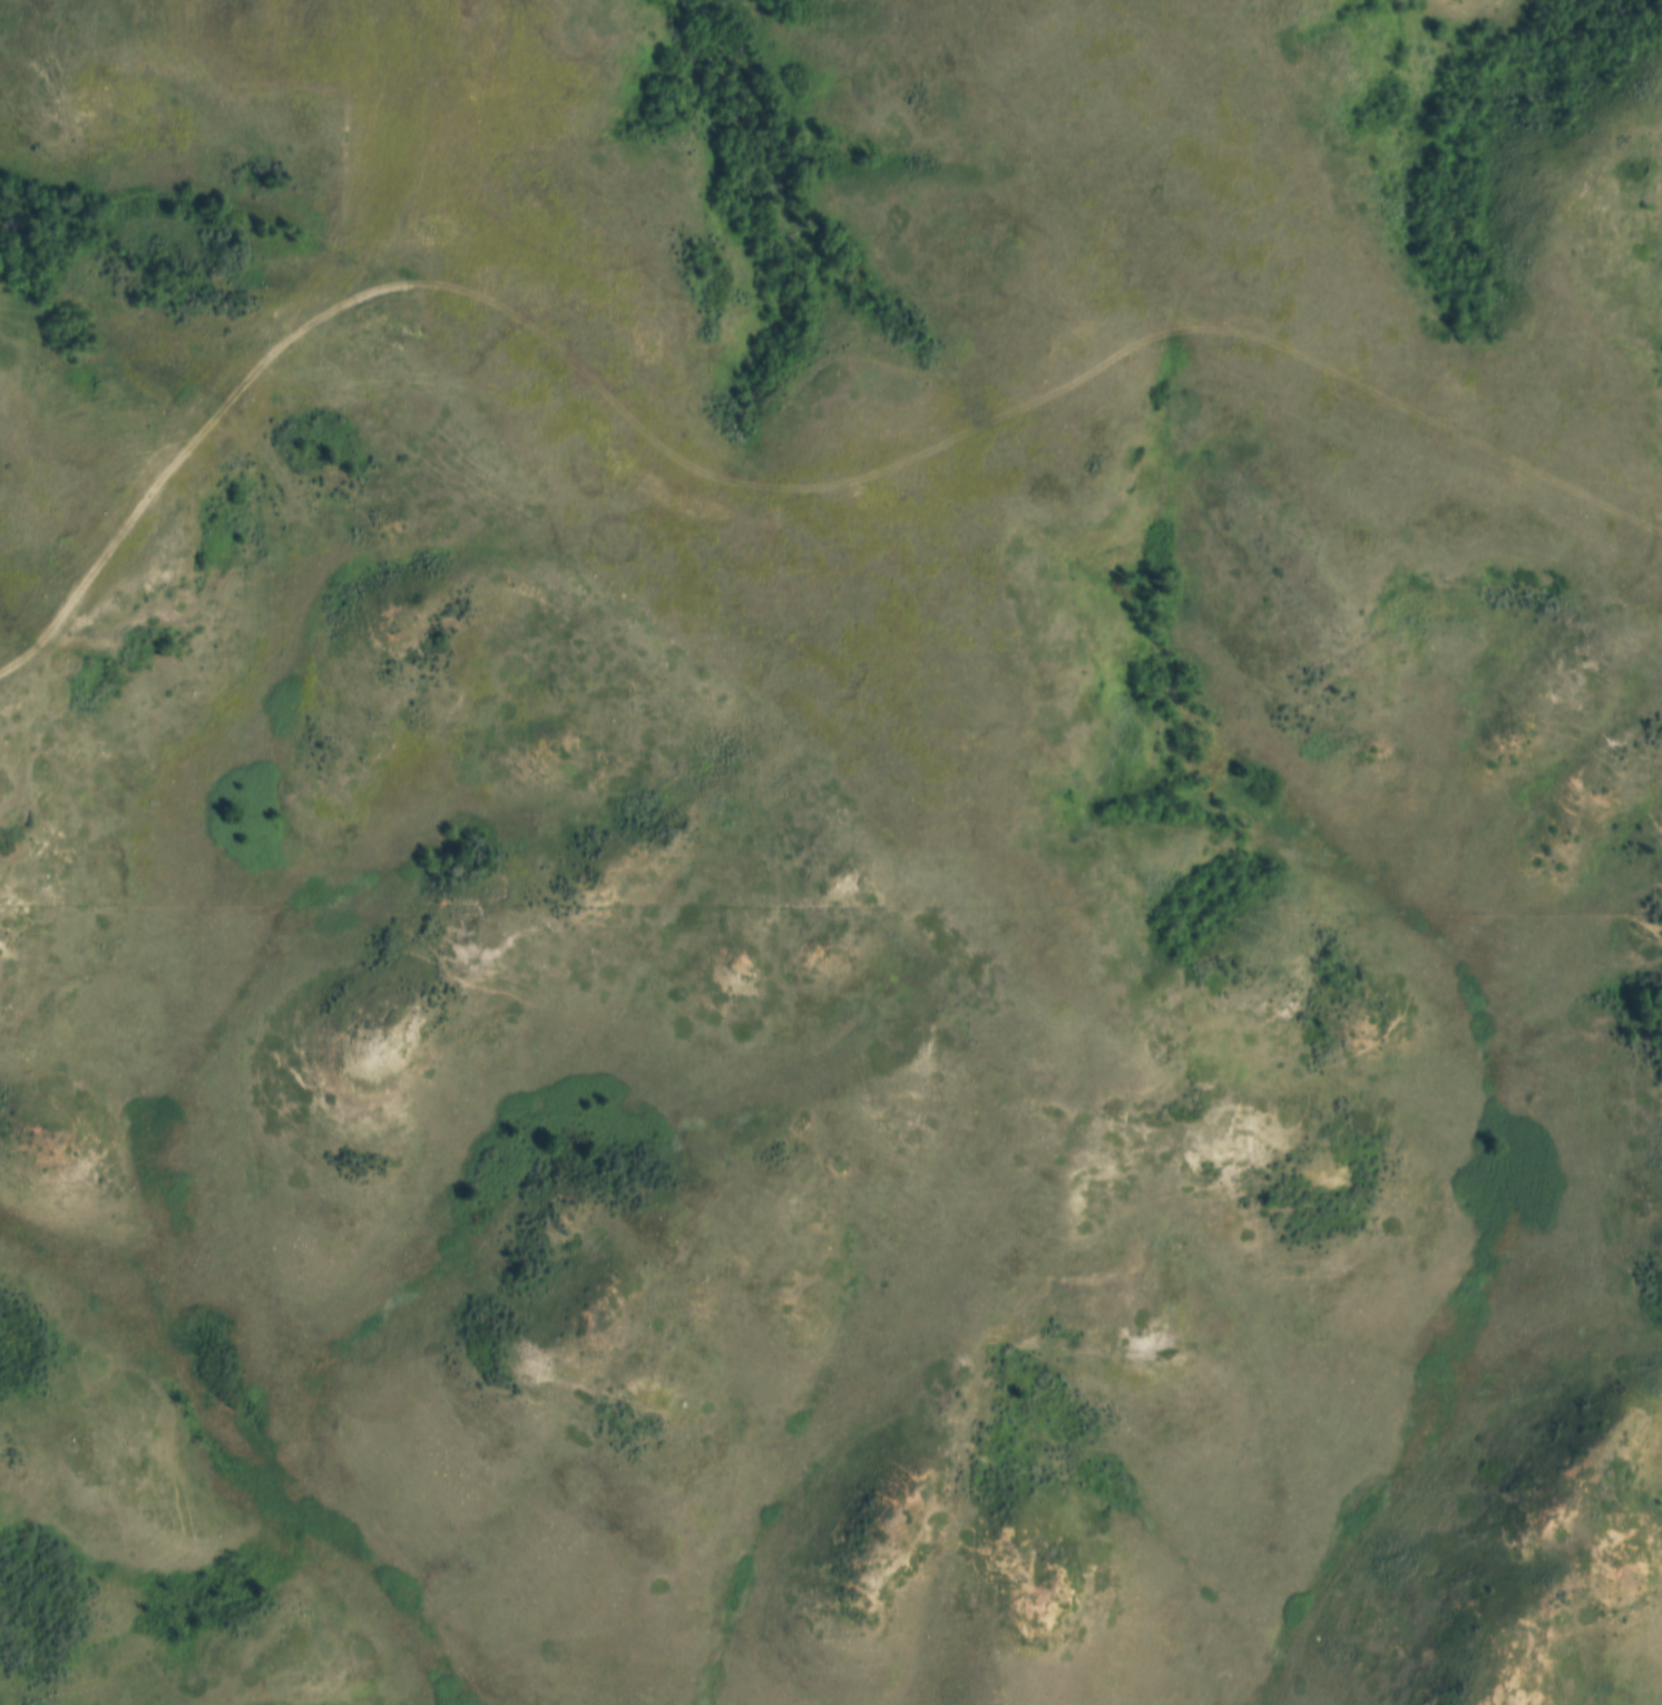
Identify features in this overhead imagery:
road: (747, 510)

